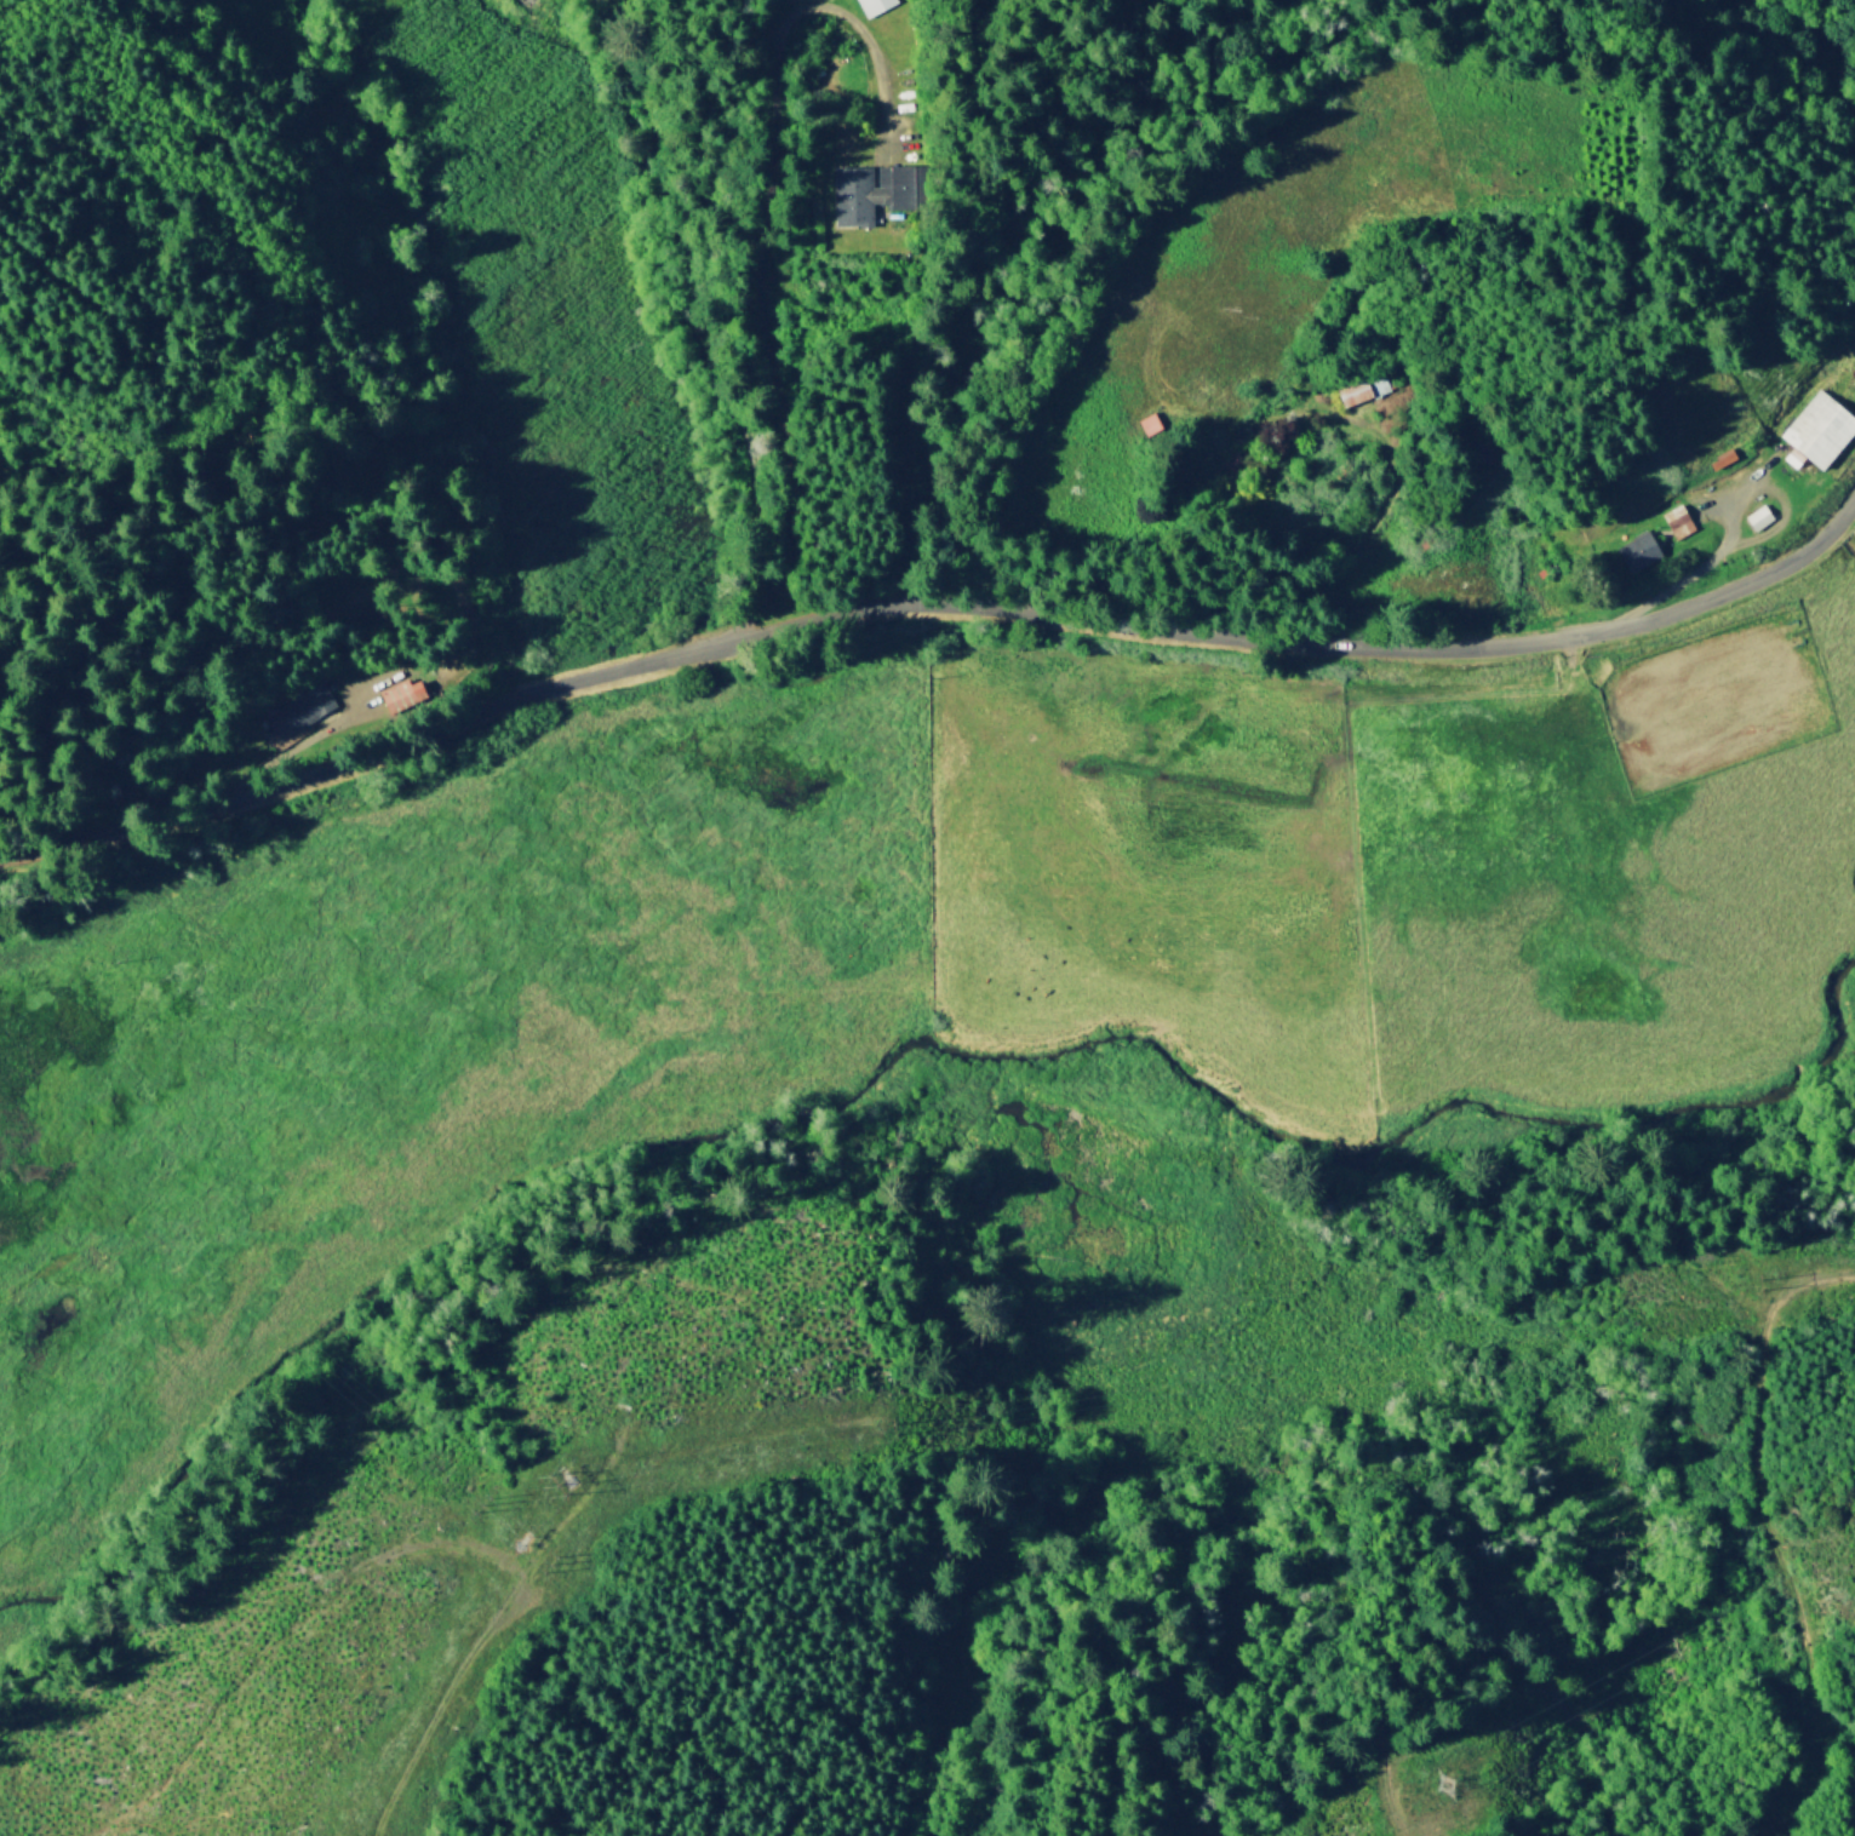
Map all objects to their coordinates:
building: (848, 195)
road: (697, 311)
building: (1359, 389)
building: (1813, 430)
building: (1753, 516)
building: (1673, 521)
building: (1632, 550)
road: (933, 609)
building: (279, 719)
power tower: (1759, 1279)
power tower: (895, 1425)
power tower: (550, 1475)
road: (1768, 1553)
road: (1481, 1648)
power tower: (1433, 1783)

